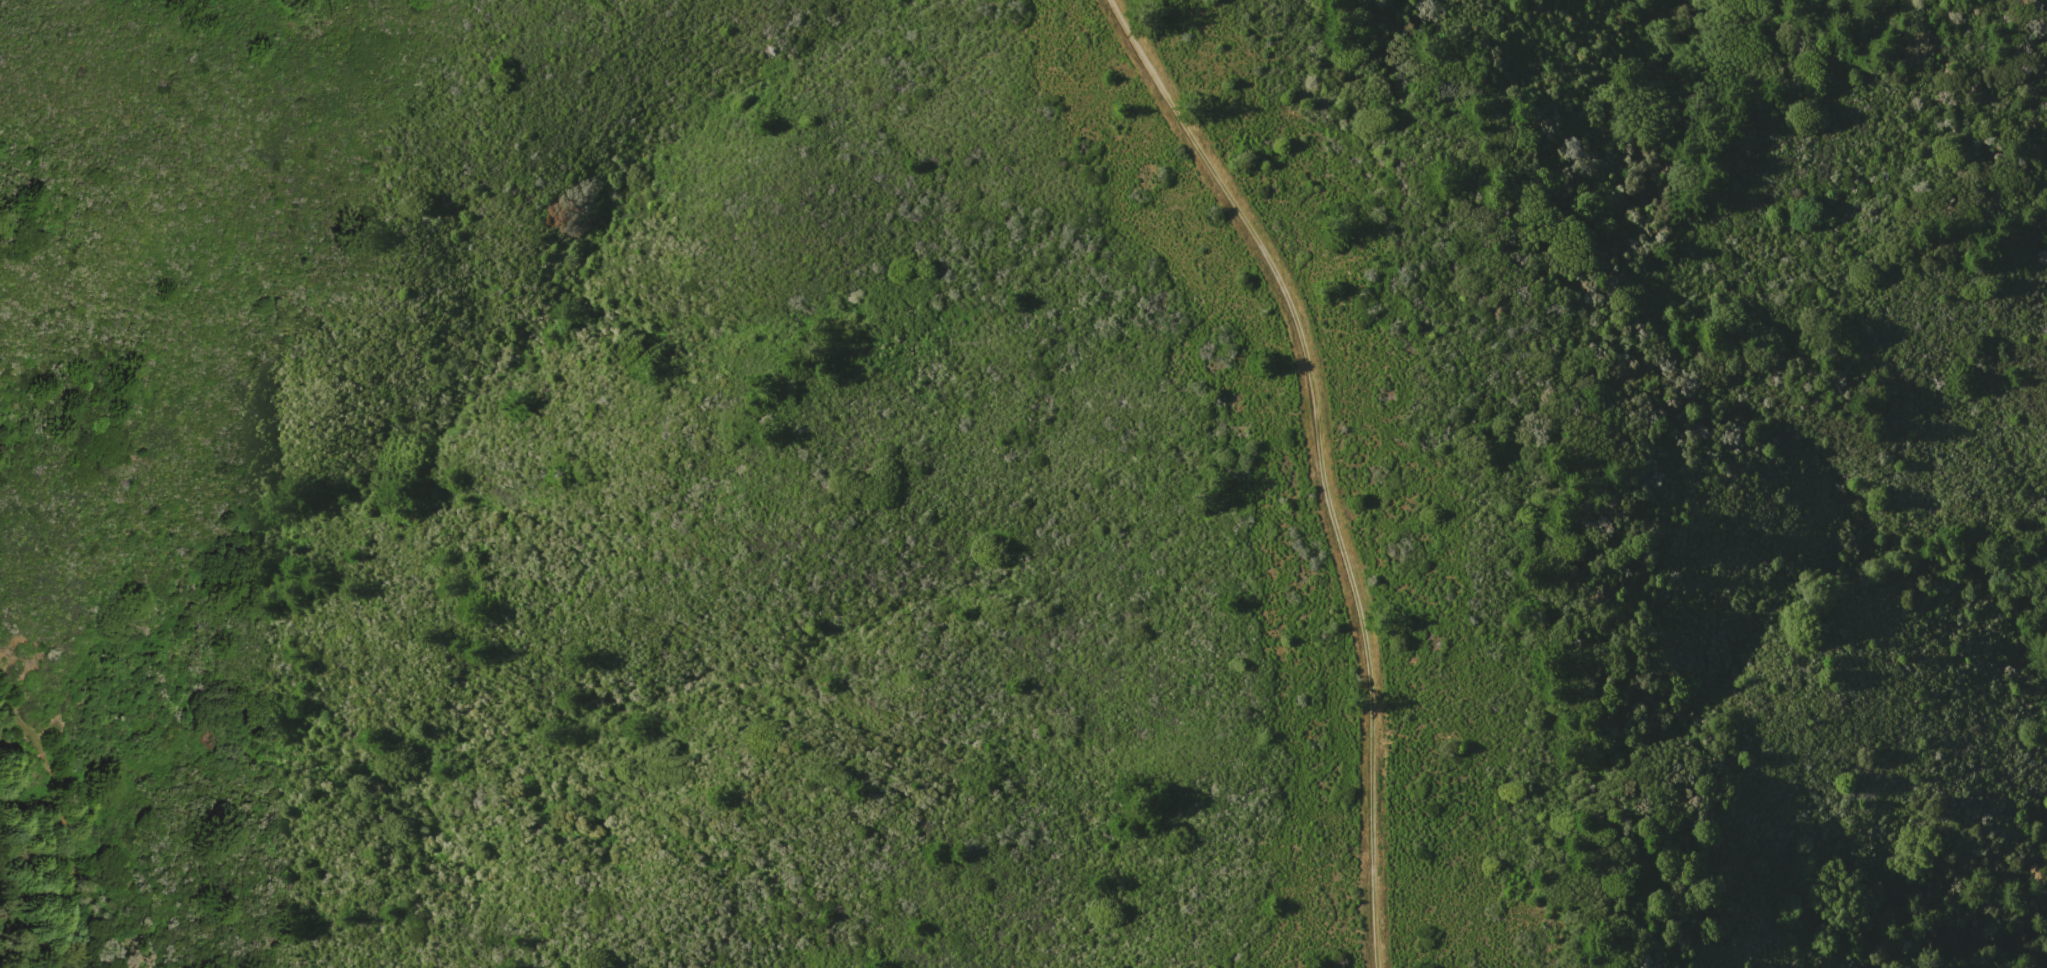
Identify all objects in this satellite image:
road: (1323, 461)

